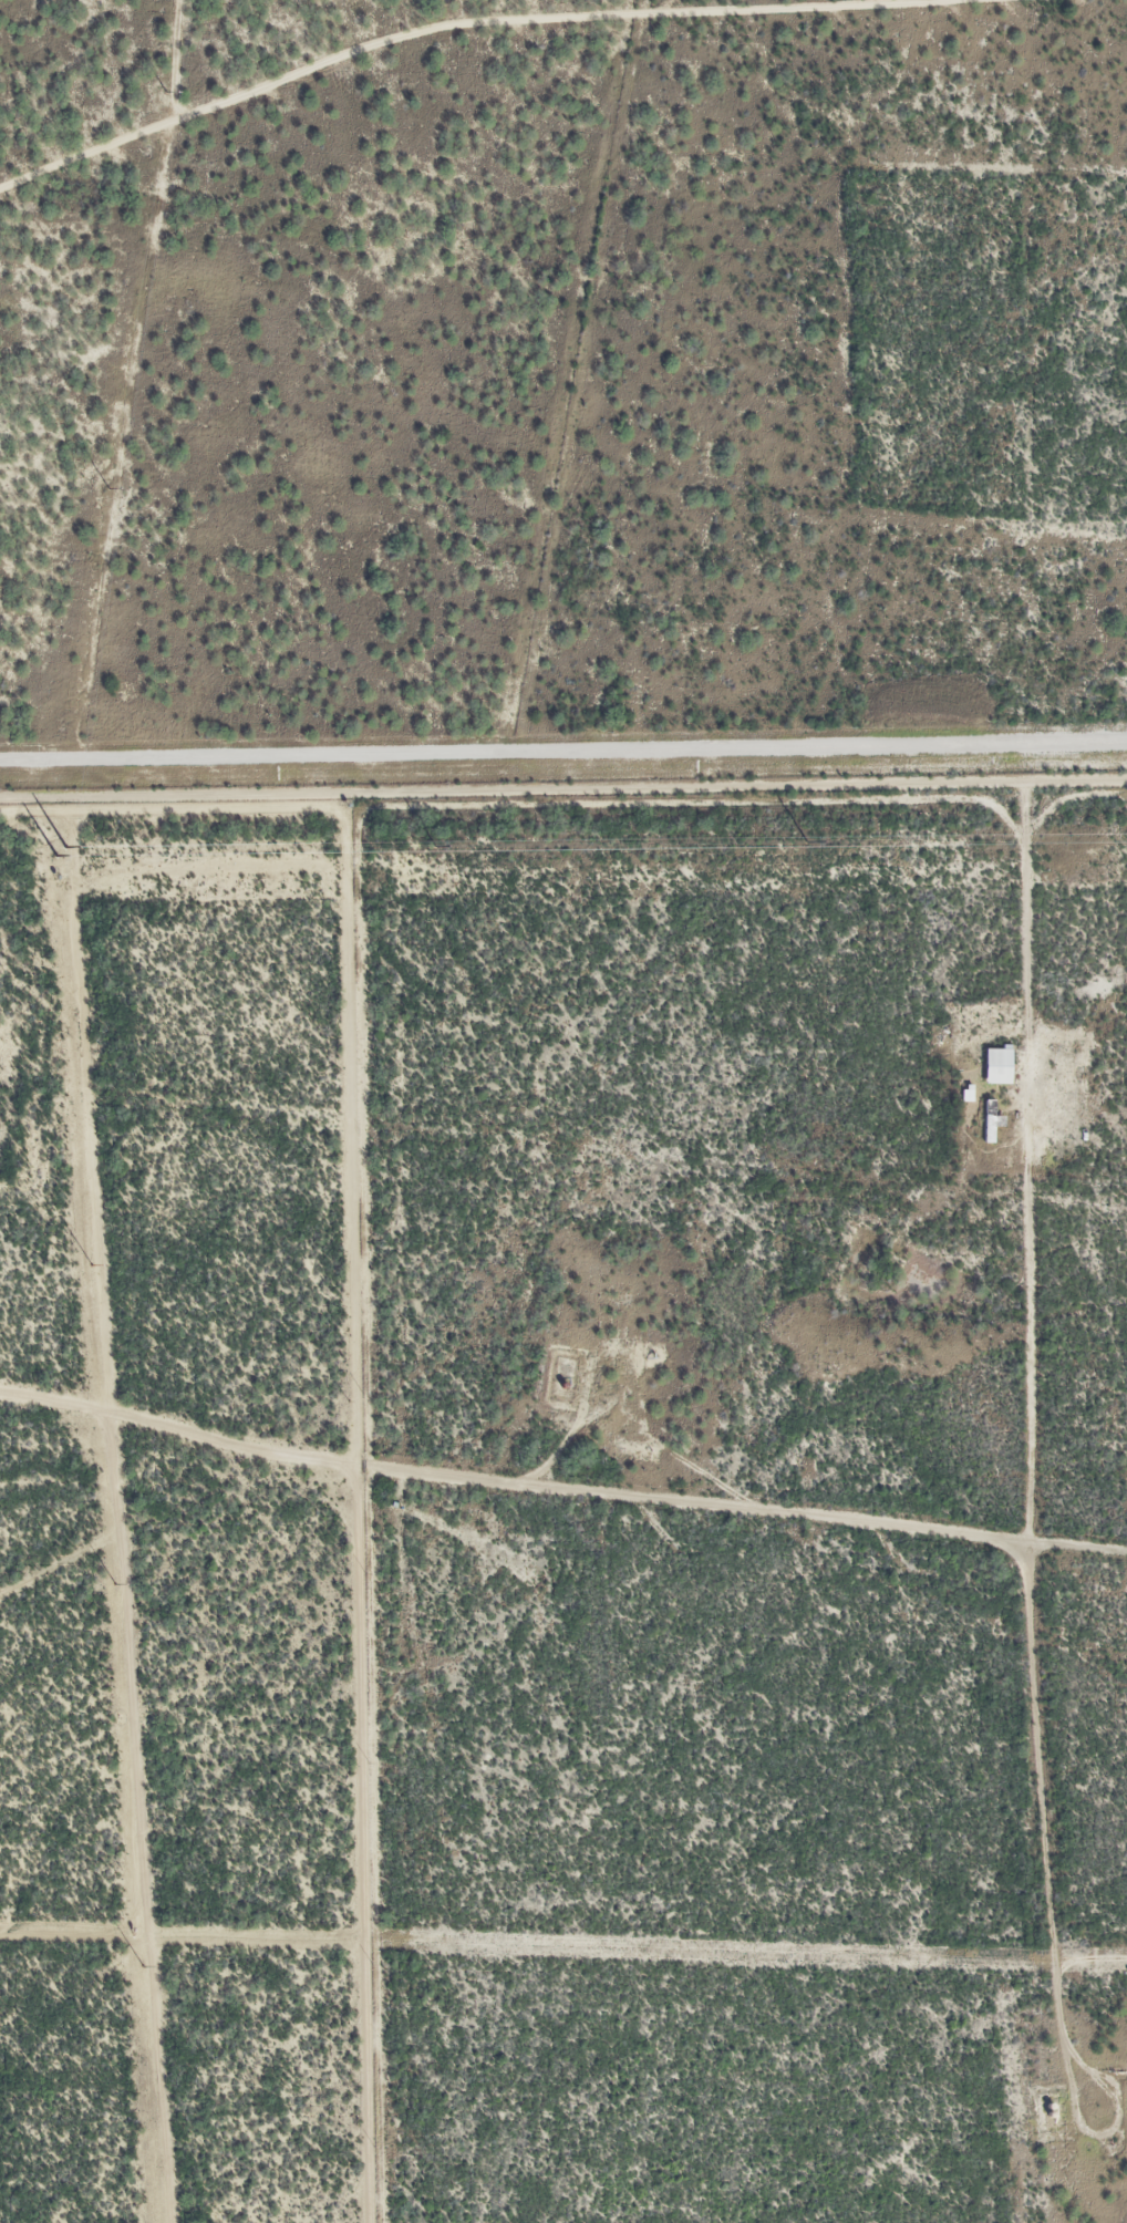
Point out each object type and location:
power tower: (163, 92)
power tower: (107, 488)
power tower: (805, 841)
power tower: (433, 845)
power tower: (64, 846)
power tower: (54, 855)
building: (1001, 1059)
building: (992, 1114)
power tower: (87, 1263)
road: (558, 1516)
power tower: (113, 1583)
power tower: (142, 1966)

